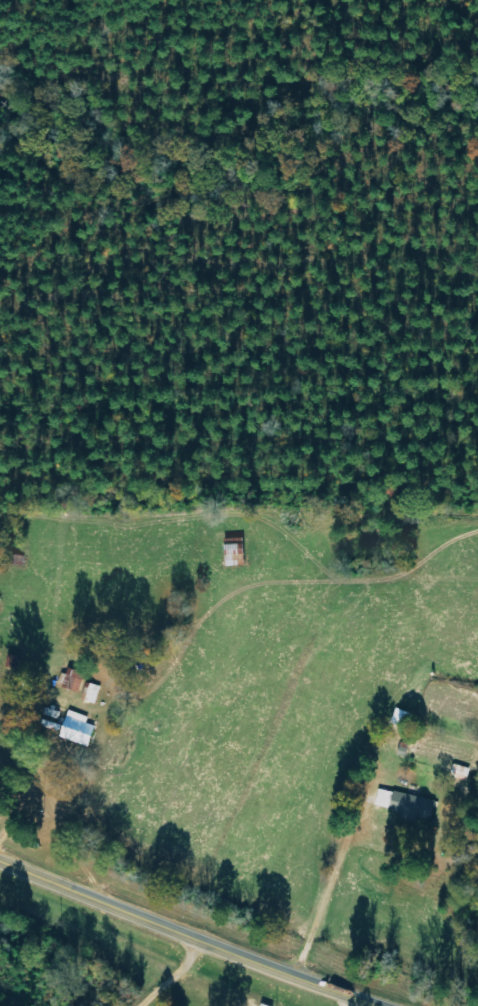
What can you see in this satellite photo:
road: (231, 706)
building: (401, 719)
building: (76, 729)
building: (404, 804)
road: (191, 936)
road: (171, 975)

